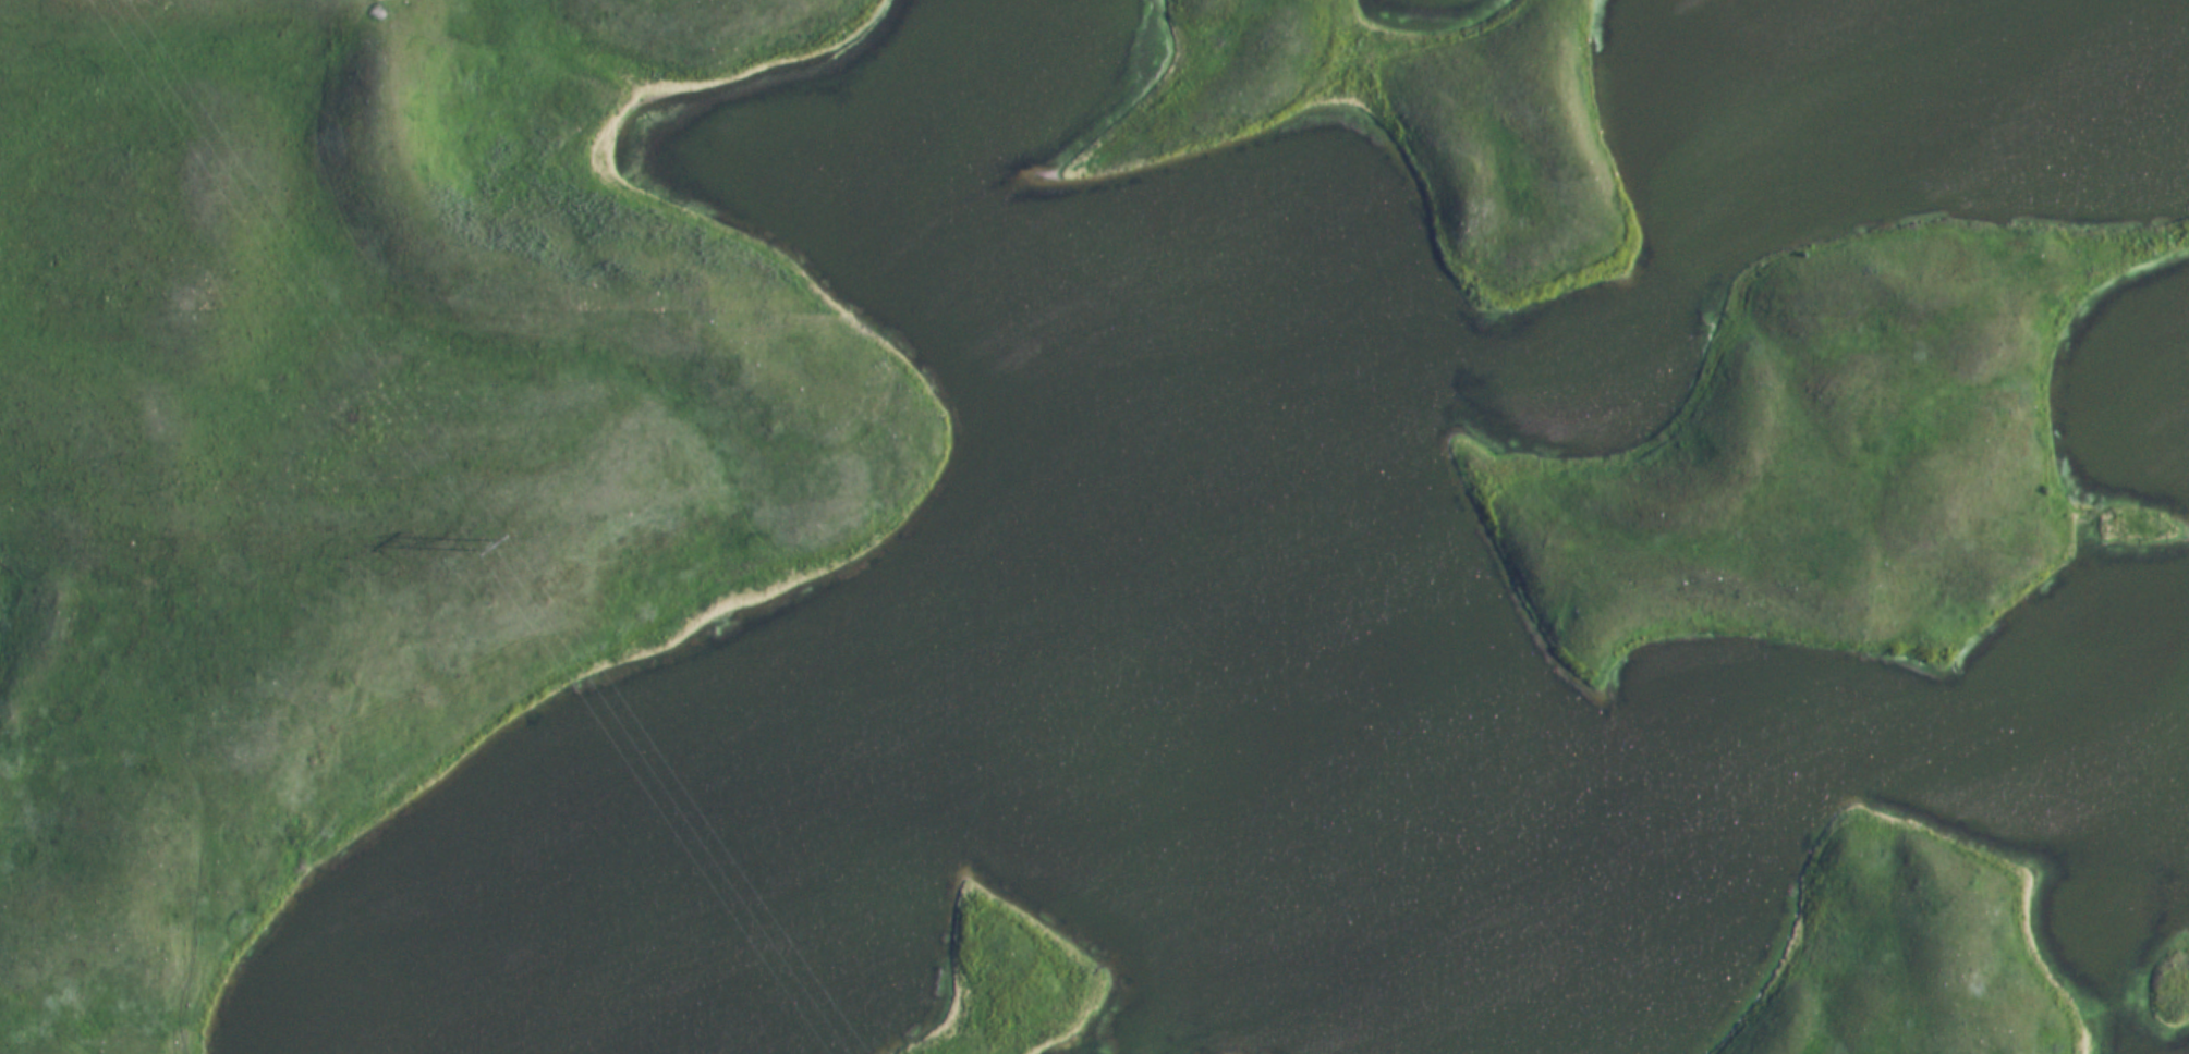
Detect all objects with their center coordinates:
power tower: (474, 543)

